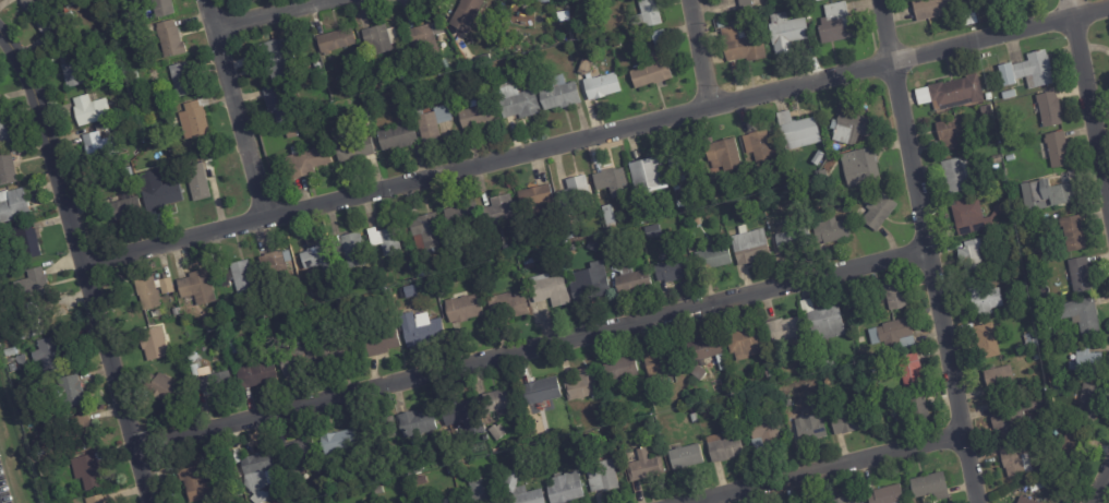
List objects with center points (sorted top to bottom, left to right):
building: (817, 1)
building: (33, 4)
building: (746, 4)
building: (159, 9)
building: (933, 9)
road: (273, 14)
building: (467, 14)
building: (644, 15)
building: (968, 21)
building: (51, 25)
building: (720, 25)
building: (834, 25)
road: (885, 32)
building: (784, 34)
building: (122, 36)
building: (658, 39)
building: (168, 40)
building: (376, 40)
building: (423, 40)
building: (334, 43)
building: (740, 46)
building: (308, 47)
road: (699, 52)
building: (276, 64)
building: (584, 67)
building: (69, 69)
building: (310, 69)
building: (1027, 70)
building: (118, 71)
building: (415, 71)
building: (651, 75)
building: (480, 77)
building: (179, 82)
building: (600, 87)
road: (1092, 88)
building: (413, 91)
building: (950, 93)
building: (1008, 94)
building: (557, 95)
building: (988, 96)
building: (0, 98)
building: (515, 101)
building: (277, 105)
road: (236, 108)
building: (1048, 109)
building: (316, 110)
building: (86, 112)
building: (303, 112)
building: (475, 117)
building: (192, 121)
building: (431, 124)
building: (849, 127)
building: (795, 128)
building: (5, 129)
building: (330, 129)
building: (951, 132)
road: (595, 134)
building: (292, 135)
building: (395, 139)
building: (759, 146)
building: (1057, 148)
building: (97, 151)
building: (352, 151)
building: (723, 155)
building: (996, 159)
building: (304, 164)
building: (10, 165)
building: (683, 165)
building: (859, 166)
building: (955, 173)
building: (646, 176)
building: (797, 176)
building: (200, 180)
building: (822, 180)
building: (611, 181)
building: (674, 187)
building: (1005, 188)
building: (796, 190)
building: (574, 193)
building: (1048, 193)
building: (157, 196)
building: (535, 200)
building: (16, 203)
building: (998, 208)
building: (123, 211)
building: (647, 211)
building: (497, 212)
building: (878, 212)
building: (834, 213)
building: (458, 216)
building: (608, 216)
building: (966, 217)
building: (1035, 228)
building: (425, 230)
building: (651, 230)
building: (829, 231)
building: (1072, 232)
building: (788, 236)
building: (383, 241)
building: (34, 242)
building: (594, 242)
building: (748, 245)
building: (349, 250)
building: (571, 251)
building: (1040, 255)
building: (711, 258)
building: (971, 258)
building: (317, 262)
building: (527, 264)
building: (276, 265)
road: (86, 267)
building: (672, 270)
building: (1039, 271)
building: (1080, 275)
building: (237, 278)
building: (628, 278)
building: (587, 283)
road: (933, 283)
building: (1022, 283)
building: (28, 284)
building: (197, 287)
building: (149, 290)
building: (547, 290)
building: (889, 295)
building: (984, 299)
building: (505, 307)
building: (461, 308)
building: (1081, 315)
building: (32, 319)
building: (822, 321)
building: (1044, 322)
building: (423, 331)
building: (785, 332)
building: (894, 334)
building: (217, 335)
building: (227, 337)
building: (981, 338)
building: (1029, 342)
building: (152, 343)
building: (381, 343)
building: (745, 346)
building: (335, 347)
building: (229, 348)
building: (16, 349)
road: (534, 349)
building: (704, 350)
building: (53, 352)
building: (1035, 357)
building: (292, 358)
building: (1028, 359)
building: (1085, 361)
building: (660, 362)
building: (829, 363)
building: (818, 364)
building: (619, 369)
building: (909, 371)
building: (698, 373)
building: (768, 373)
building: (255, 374)
building: (998, 376)
building: (824, 380)
building: (209, 382)
building: (580, 385)
building: (164, 388)
building: (74, 390)
building: (1057, 390)
building: (540, 391)
building: (785, 400)
building: (499, 402)
building: (1087, 402)
building: (871, 408)
building: (916, 408)
building: (691, 410)
building: (1014, 416)
building: (1042, 416)
building: (463, 417)
building: (692, 418)
building: (847, 418)
building: (648, 422)
building: (1036, 426)
building: (417, 427)
building: (806, 428)
building: (86, 430)
building: (495, 432)
building: (763, 435)
building: (335, 442)
building: (1069, 447)
building: (722, 448)
building: (293, 452)
building: (684, 456)
building: (1013, 458)
building: (576, 465)
building: (330, 466)
building: (414, 467)
building: (643, 467)
building: (93, 469)
road: (827, 469)
building: (598, 472)
building: (255, 475)
road: (1090, 477)
building: (191, 480)
building: (420, 481)
building: (929, 487)
building: (518, 488)
building: (564, 489)
building: (237, 492)
building: (480, 493)
building: (887, 495)
building: (101, 499)
building: (846, 500)
building: (1024, 501)
building: (456, 502)

